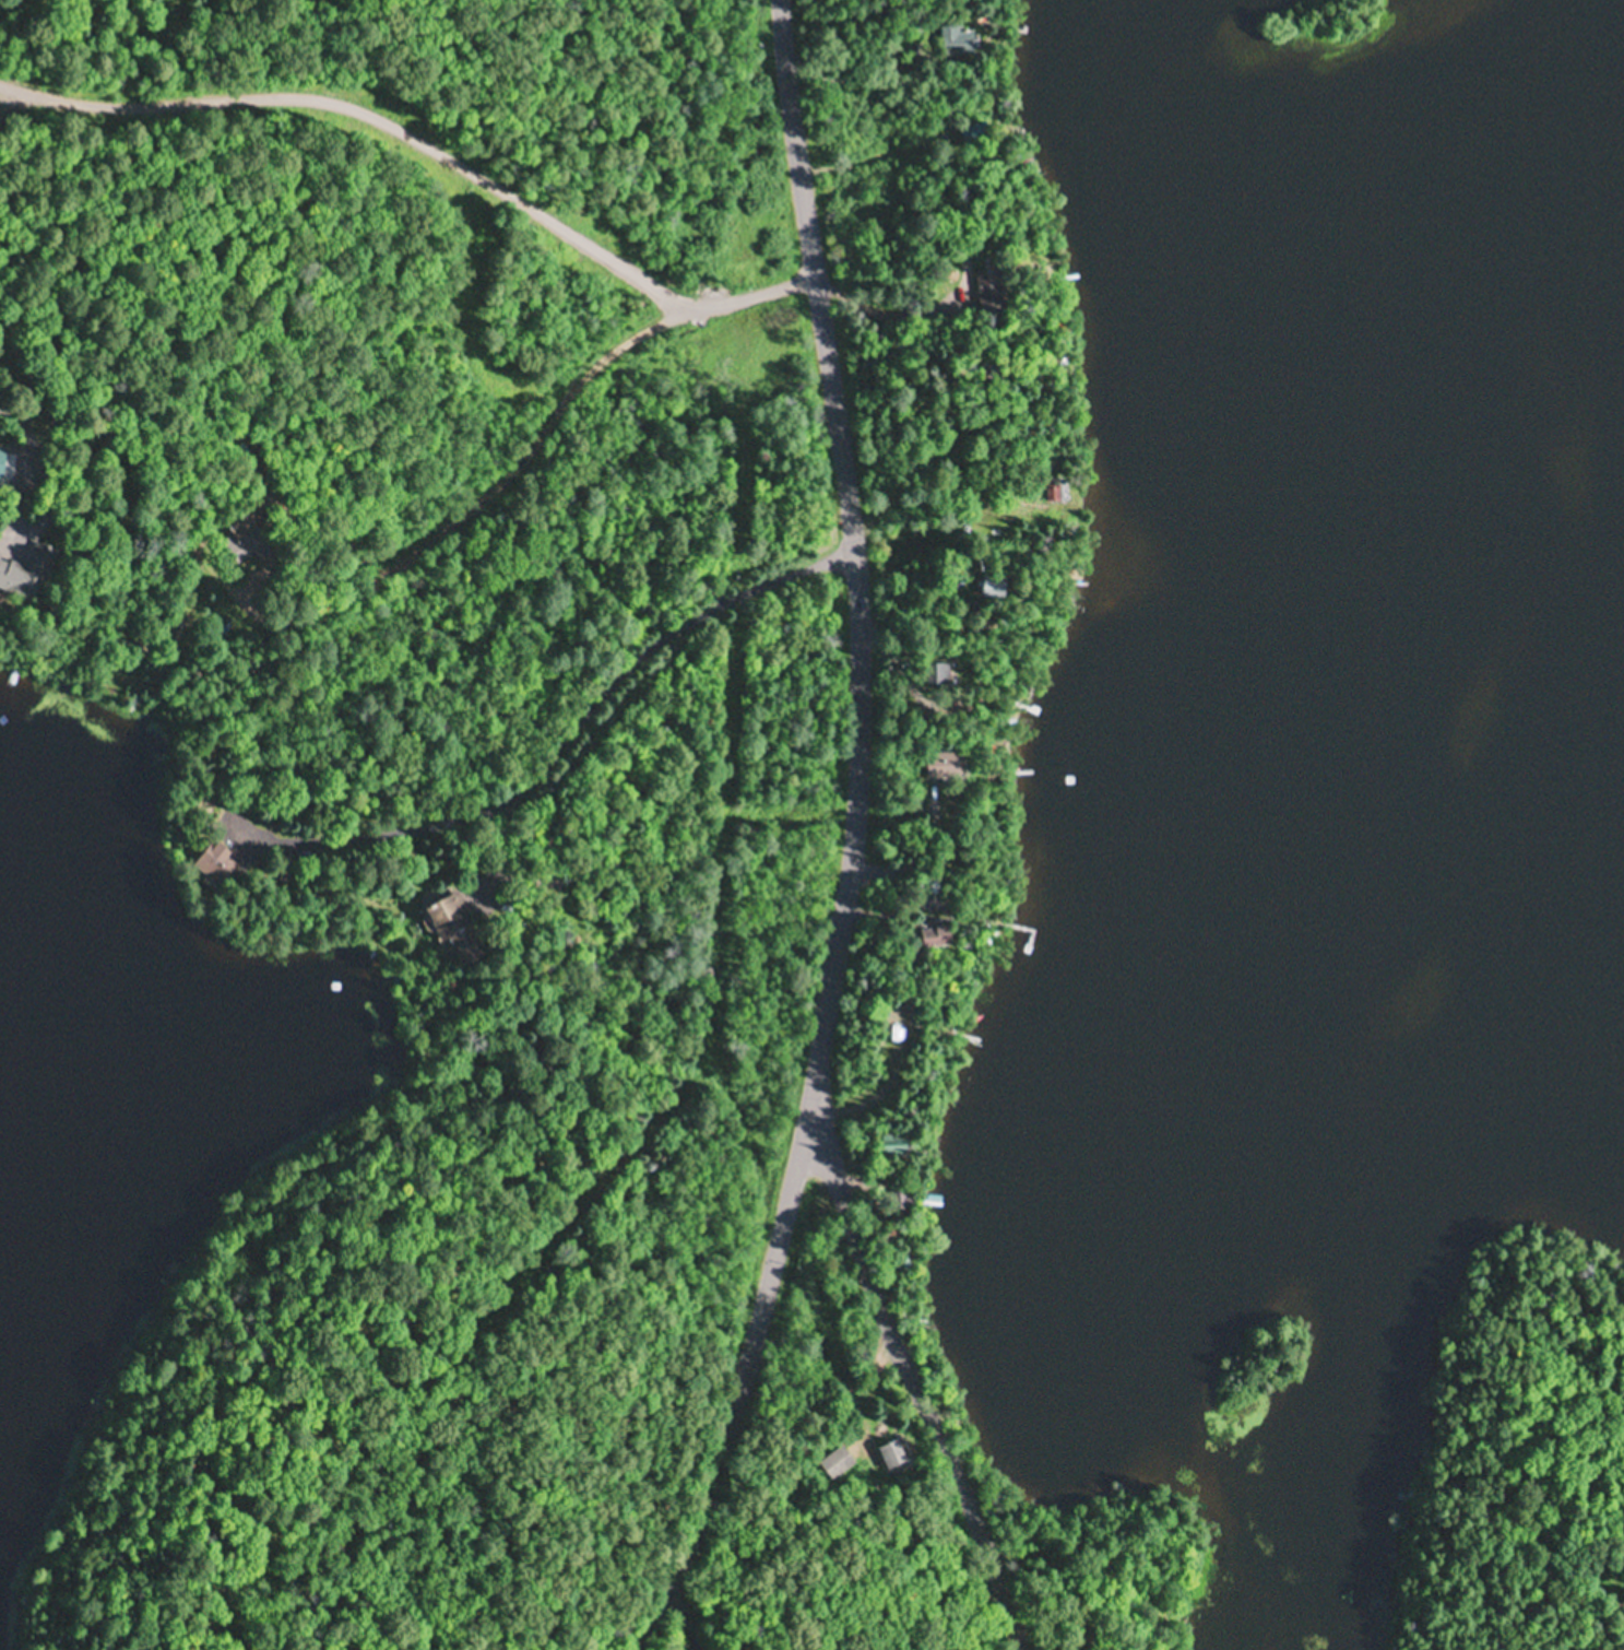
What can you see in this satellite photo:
road: (432, 118)
road: (540, 603)
road: (854, 839)
road: (914, 1376)

